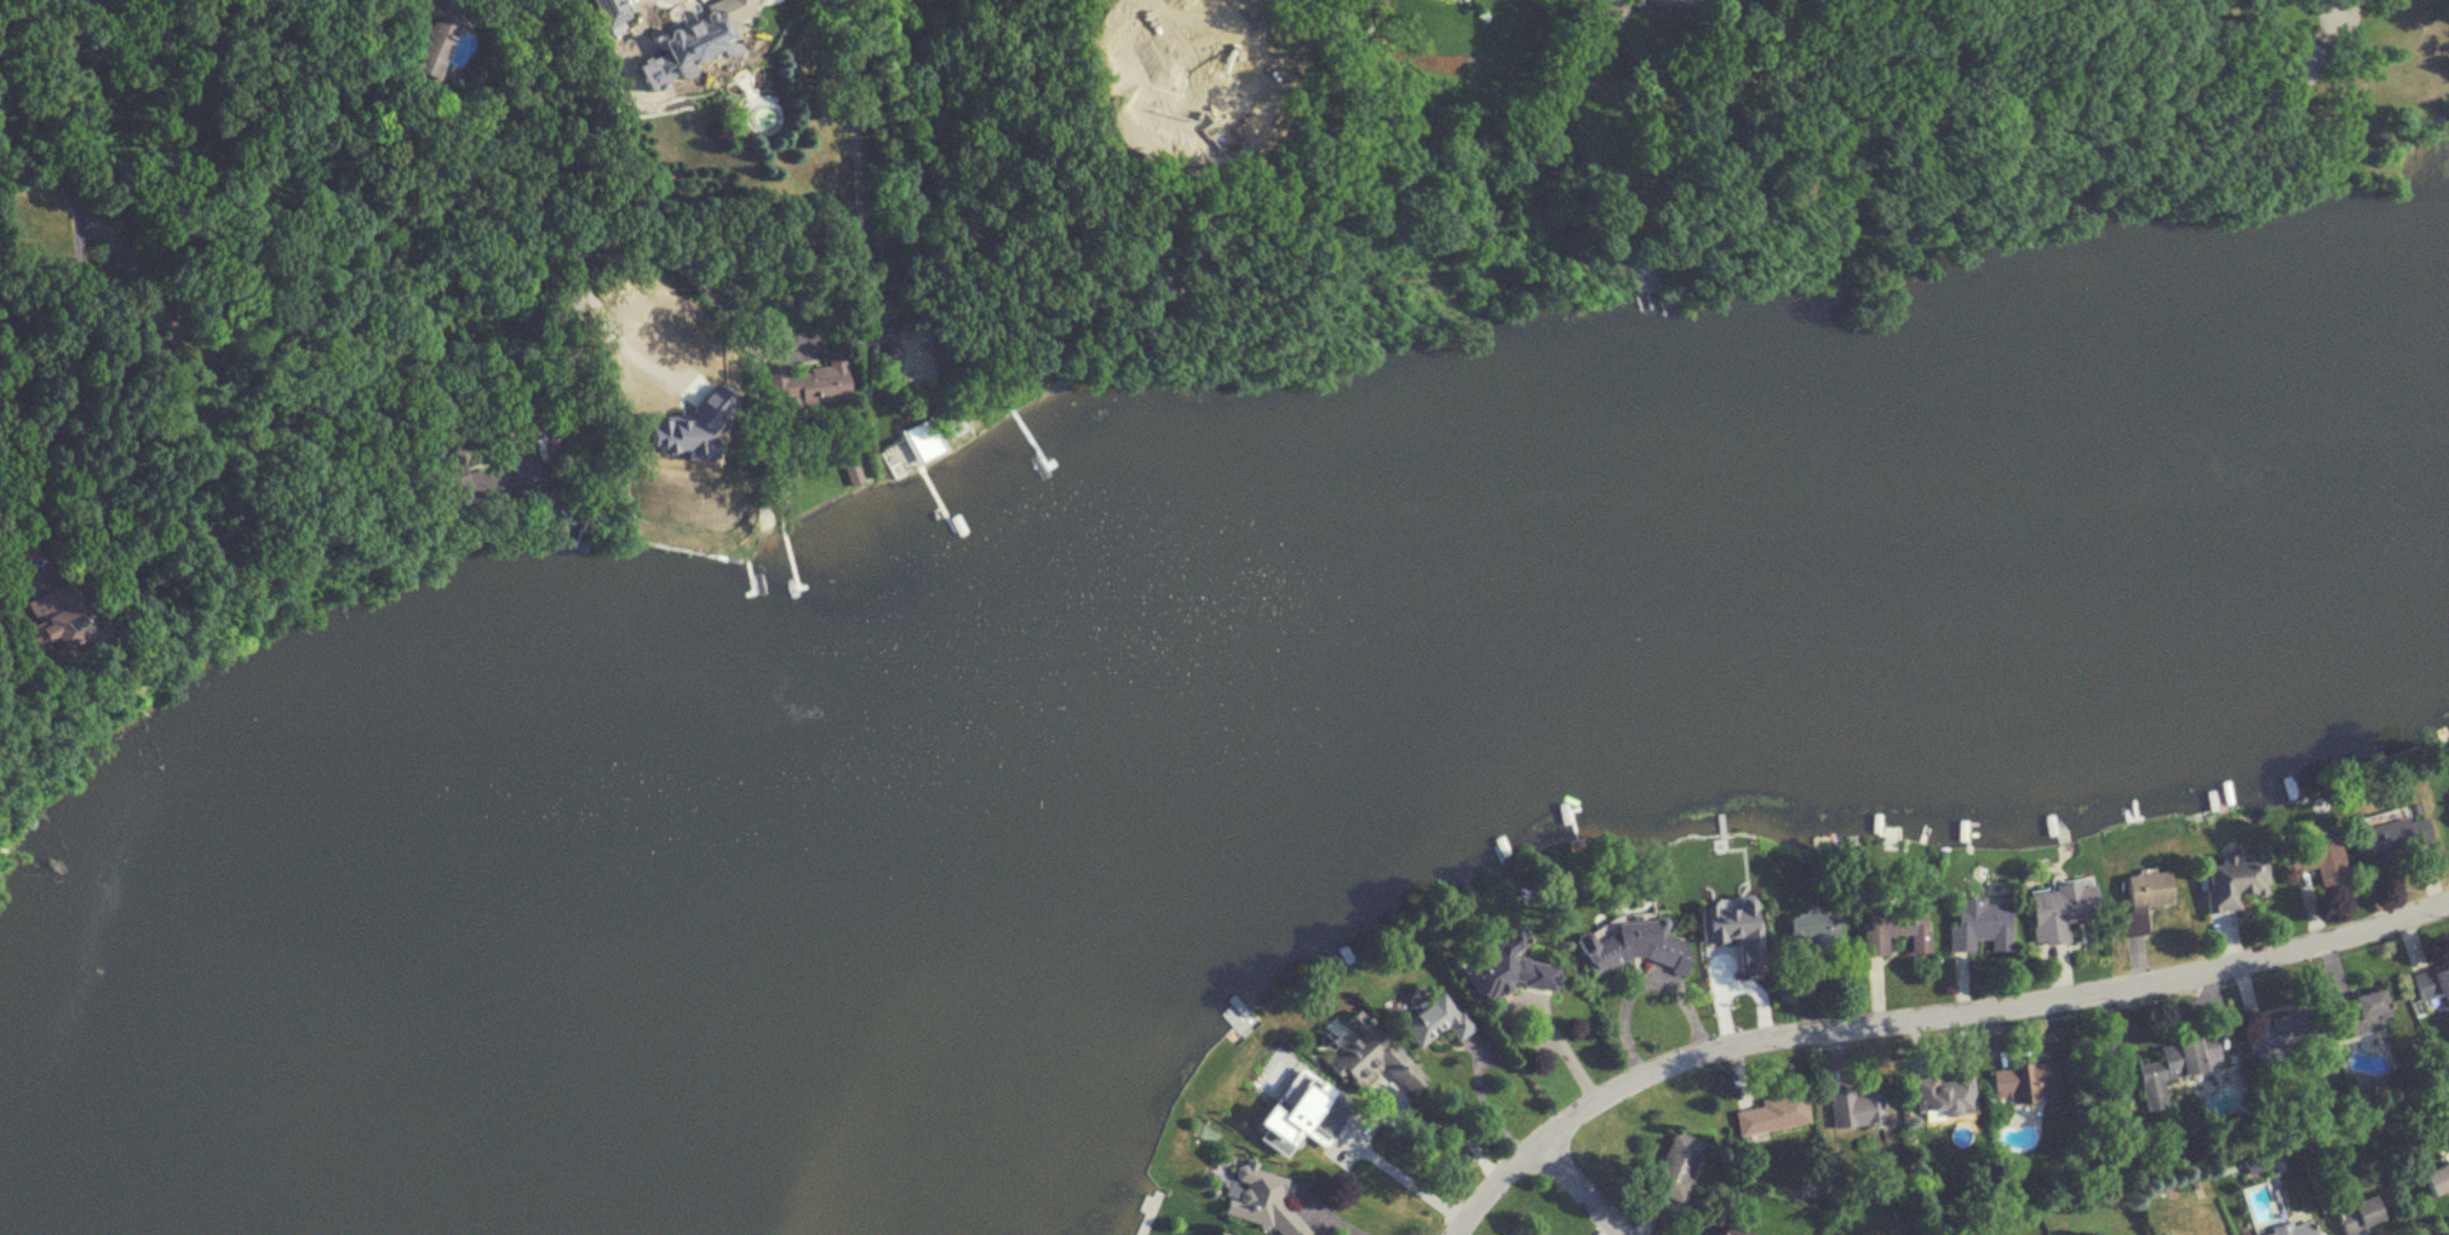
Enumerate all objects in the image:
building: (604, 11)
building: (447, 34)
road: (1169, 34)
building: (692, 40)
building: (2293, 82)
building: (1160, 108)
building: (758, 117)
road: (39, 137)
road: (414, 167)
road: (858, 184)
road: (723, 304)
road: (69, 349)
road: (563, 372)
building: (803, 381)
road: (693, 384)
building: (665, 441)
building: (481, 473)
building: (68, 611)
river: (1376, 622)
building: (2448, 810)
building: (2393, 834)
building: (2316, 858)
building: (2230, 878)
building: (2140, 897)
building: (2059, 909)
building: (1978, 923)
building: (1893, 925)
building: (1809, 926)
building: (1726, 940)
building: (1623, 943)
building: (1503, 965)
road: (1646, 982)
building: (2431, 982)
building: (2358, 1012)
road: (1923, 1015)
building: (1433, 1018)
building: (2281, 1028)
road: (1565, 1051)
building: (1369, 1056)
building: (2174, 1065)
building: (2025, 1081)
building: (1943, 1093)
road: (1484, 1099)
building: (1852, 1105)
building: (1771, 1113)
building: (1286, 1115)
road: (1453, 1130)
building: (1674, 1165)
building: (2434, 1178)
road: (1387, 1181)
road: (1584, 1188)
building: (1258, 1200)
building: (2356, 1214)
road: (1336, 1217)
building: (2290, 1229)
building: (1724, 1230)
building: (1216, 1233)
building: (1743, 1233)
building: (1526, 1234)

